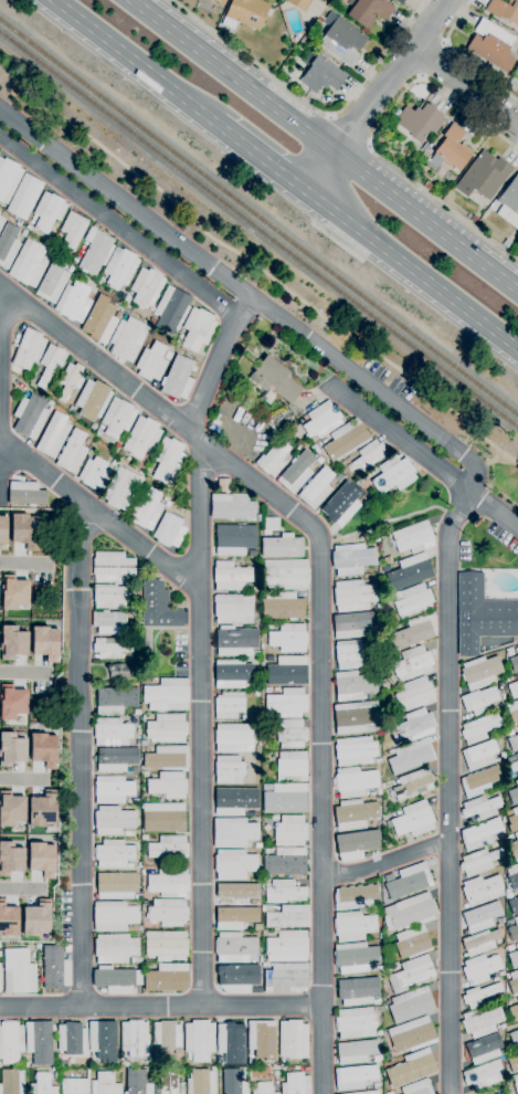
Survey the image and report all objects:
building: (220, 1)
building: (399, 1)
building: (307, 6)
building: (504, 10)
building: (369, 11)
building: (245, 13)
building: (341, 39)
building: (491, 45)
road: (463, 56)
road: (432, 61)
road: (133, 62)
building: (321, 75)
road: (466, 85)
road: (376, 95)
road: (308, 105)
road: (330, 118)
building: (417, 122)
road: (348, 133)
road: (371, 138)
road: (325, 144)
road: (368, 146)
building: (425, 147)
building: (452, 149)
road: (360, 156)
road: (263, 160)
building: (413, 172)
building: (484, 176)
building: (8, 179)
building: (427, 186)
building: (24, 197)
building: (510, 197)
road: (127, 204)
building: (49, 211)
road: (319, 214)
railway: (258, 217)
building: (474, 219)
building: (1, 222)
road: (314, 222)
railway: (258, 227)
building: (29, 228)
road: (119, 228)
building: (73, 230)
building: (23, 233)
road: (337, 242)
building: (8, 245)
building: (55, 248)
building: (95, 252)
building: (29, 264)
building: (119, 267)
road: (414, 274)
building: (52, 282)
building: (146, 287)
building: (127, 299)
building: (74, 302)
building: (170, 311)
building: (99, 319)
road: (0, 324)
building: (198, 329)
building: (128, 339)
building: (27, 347)
building: (151, 362)
building: (51, 364)
building: (178, 378)
building: (71, 380)
building: (275, 380)
road: (374, 390)
building: (93, 399)
building: (30, 415)
building: (118, 418)
building: (321, 420)
building: (272, 428)
parking lot: (241, 429)
building: (53, 435)
building: (142, 438)
road: (194, 438)
building: (346, 440)
road: (401, 440)
building: (314, 449)
building: (72, 452)
building: (367, 456)
building: (274, 459)
building: (168, 460)
building: (114, 463)
building: (296, 473)
building: (94, 474)
building: (393, 475)
building: (223, 485)
building: (121, 488)
building: (316, 488)
building: (27, 494)
building: (167, 504)
building: (340, 504)
building: (232, 506)
building: (147, 509)
road: (494, 509)
road: (388, 522)
building: (271, 526)
building: (25, 529)
building: (169, 530)
building: (2, 532)
building: (413, 538)
building: (234, 539)
building: (282, 547)
building: (252, 554)
building: (352, 559)
building: (388, 559)
road: (24, 564)
building: (113, 567)
building: (410, 571)
building: (285, 575)
building: (230, 577)
building: (254, 589)
building: (13, 592)
building: (109, 596)
building: (352, 596)
building: (412, 602)
building: (158, 606)
building: (283, 607)
building: (233, 609)
road: (319, 611)
building: (482, 614)
building: (108, 621)
building: (352, 624)
building: (269, 627)
building: (412, 632)
building: (288, 639)
building: (235, 641)
building: (12, 642)
building: (44, 643)
building: (112, 648)
building: (509, 652)
road: (148, 653)
building: (254, 654)
building: (351, 654)
road: (484, 654)
building: (514, 662)
building: (412, 664)
building: (117, 671)
building: (286, 671)
building: (480, 672)
road: (23, 673)
building: (232, 673)
building: (517, 675)
road: (114, 680)
building: (353, 685)
building: (267, 690)
building: (514, 690)
building: (415, 694)
building: (167, 695)
building: (115, 699)
building: (479, 701)
building: (11, 702)
building: (287, 703)
building: (229, 705)
building: (136, 712)
building: (512, 712)
building: (357, 718)
building: (414, 726)
building: (167, 728)
building: (479, 728)
building: (501, 730)
building: (113, 732)
building: (290, 734)
building: (234, 738)
building: (512, 743)
building: (144, 744)
building: (257, 747)
building: (11, 749)
building: (43, 749)
building: (356, 751)
building: (268, 754)
road: (82, 755)
building: (479, 755)
building: (503, 755)
building: (411, 756)
building: (517, 756)
building: (167, 757)
building: (116, 759)
building: (510, 759)
building: (292, 767)
building: (514, 767)
building: (136, 769)
building: (229, 770)
building: (146, 774)
road: (201, 775)
road: (22, 779)
building: (480, 781)
building: (355, 782)
building: (168, 785)
building: (412, 785)
building: (113, 790)
road: (450, 790)
building: (378, 791)
building: (514, 795)
building: (136, 801)
building: (233, 801)
building: (480, 808)
building: (10, 809)
building: (41, 810)
building: (355, 814)
building: (163, 817)
building: (274, 818)
building: (113, 820)
building: (414, 820)
building: (514, 821)
building: (290, 831)
building: (233, 832)
building: (128, 833)
building: (480, 833)
building: (144, 838)
building: (355, 844)
building: (257, 845)
building: (515, 848)
building: (168, 849)
building: (113, 854)
building: (10, 859)
building: (41, 859)
building: (286, 862)
road: (385, 862)
building: (479, 862)
building: (234, 864)
building: (142, 873)
building: (512, 875)
building: (410, 881)
building: (169, 882)
building: (263, 882)
building: (117, 885)
road: (22, 890)
building: (482, 890)
building: (284, 892)
building: (235, 894)
building: (138, 896)
building: (356, 896)
building: (509, 896)
building: (512, 906)
building: (378, 909)
building: (410, 912)
building: (167, 913)
building: (287, 916)
building: (114, 917)
building: (234, 917)
building: (482, 917)
building: (8, 919)
building: (36, 919)
building: (353, 926)
building: (514, 930)
building: (264, 932)
building: (413, 943)
building: (480, 943)
building: (166, 945)
building: (287, 946)
building: (67, 948)
building: (115, 948)
building: (235, 948)
building: (33, 955)
building: (355, 957)
building: (514, 958)
building: (135, 960)
building: (265, 965)
building: (55, 968)
building: (377, 968)
building: (480, 968)
building: (19, 971)
building: (412, 974)
building: (501, 974)
building: (167, 978)
building: (236, 978)
building: (286, 978)
building: (117, 979)
building: (0, 982)
building: (514, 982)
building: (358, 991)
building: (479, 995)
building: (500, 997)
building: (517, 998)
building: (387, 1002)
building: (411, 1004)
road: (263, 1006)
building: (514, 1012)
building: (482, 1022)
building: (356, 1023)
building: (503, 1027)
building: (412, 1034)
building: (229, 1035)
building: (168, 1037)
building: (134, 1038)
building: (514, 1038)
building: (72, 1039)
building: (263, 1040)
building: (294, 1040)
building: (103, 1041)
building: (199, 1041)
building: (11, 1042)
building: (39, 1042)
building: (485, 1049)
building: (356, 1051)
building: (378, 1059)
building: (156, 1061)
building: (251, 1062)
building: (260, 1063)
building: (27, 1064)
building: (514, 1064)
building: (289, 1069)
building: (411, 1069)
building: (118, 1070)
building: (484, 1074)
building: (55, 1075)
building: (355, 1076)
building: (12, 1082)
building: (137, 1082)
building: (201, 1082)
building: (234, 1082)
building: (516, 1082)
building: (169, 1083)
building: (43, 1084)
building: (105, 1084)
building: (296, 1084)
building: (75, 1085)
building: (377, 1085)
building: (262, 1087)
building: (417, 1087)
building: (367, 1092)
building: (276, 1093)
building: (389, 1093)

